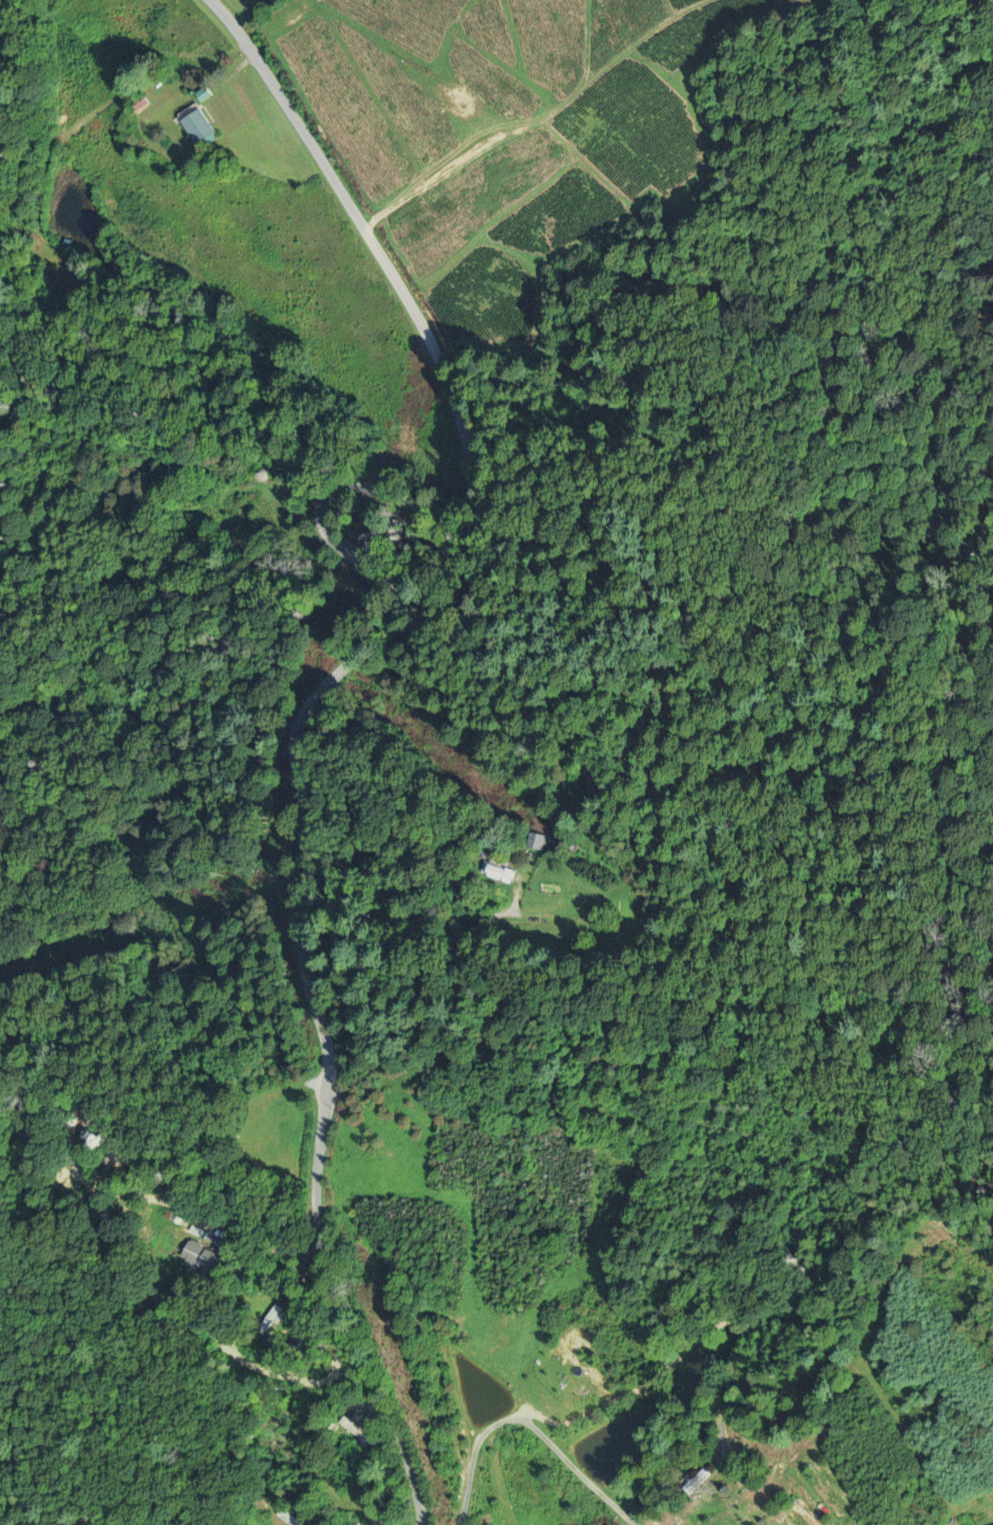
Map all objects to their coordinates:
road: (368, 649)
road: (229, 1353)
road: (532, 1421)

